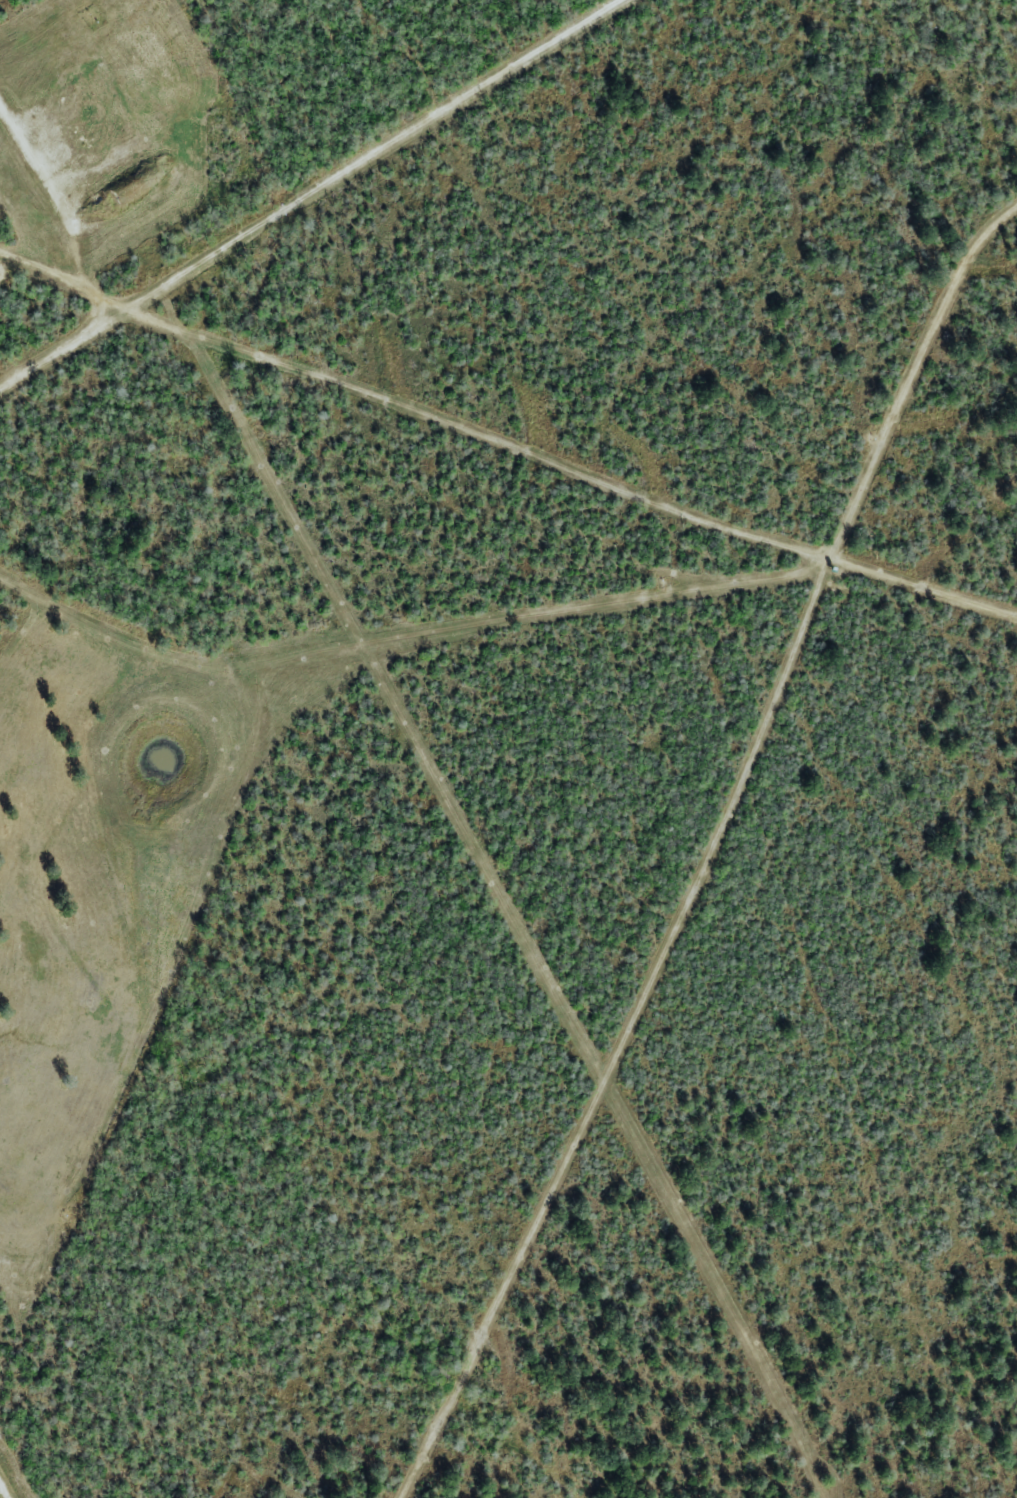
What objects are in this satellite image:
road: (34, 161)
road: (6, 1487)

